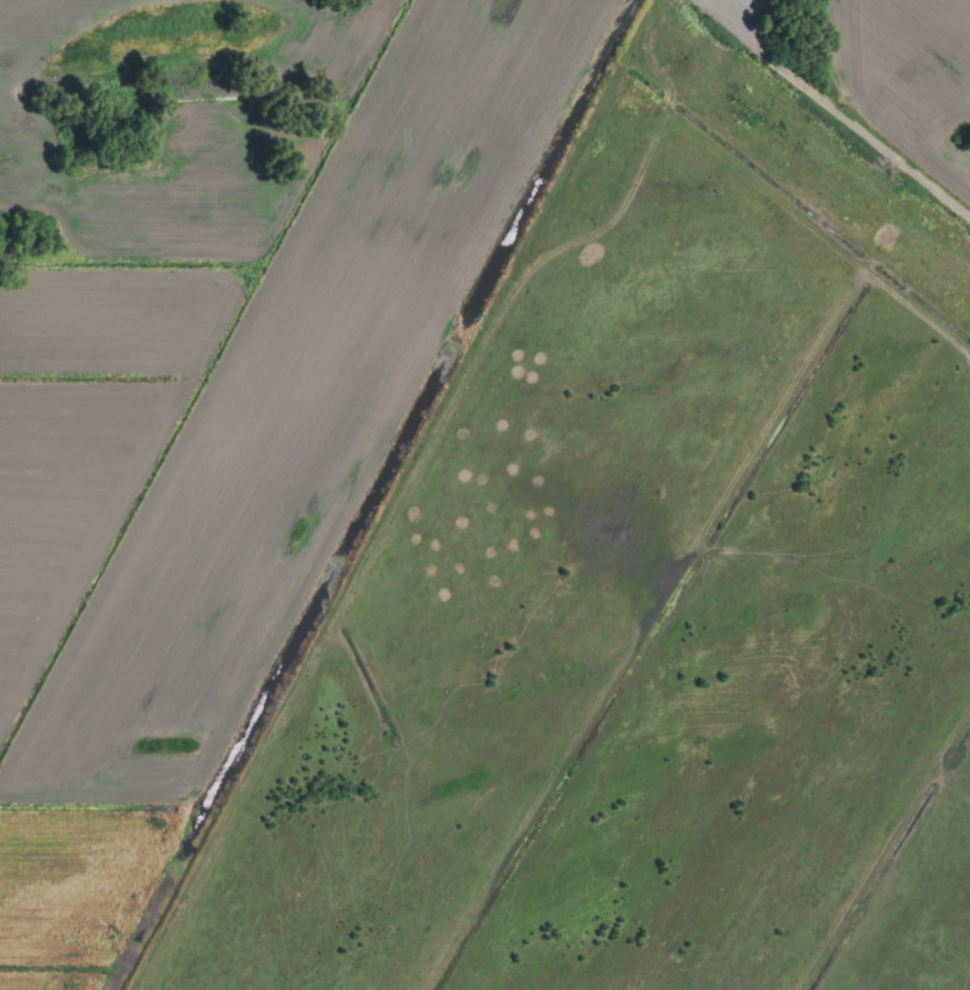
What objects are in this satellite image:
road: (832, 110)
crop: (485, 495)

